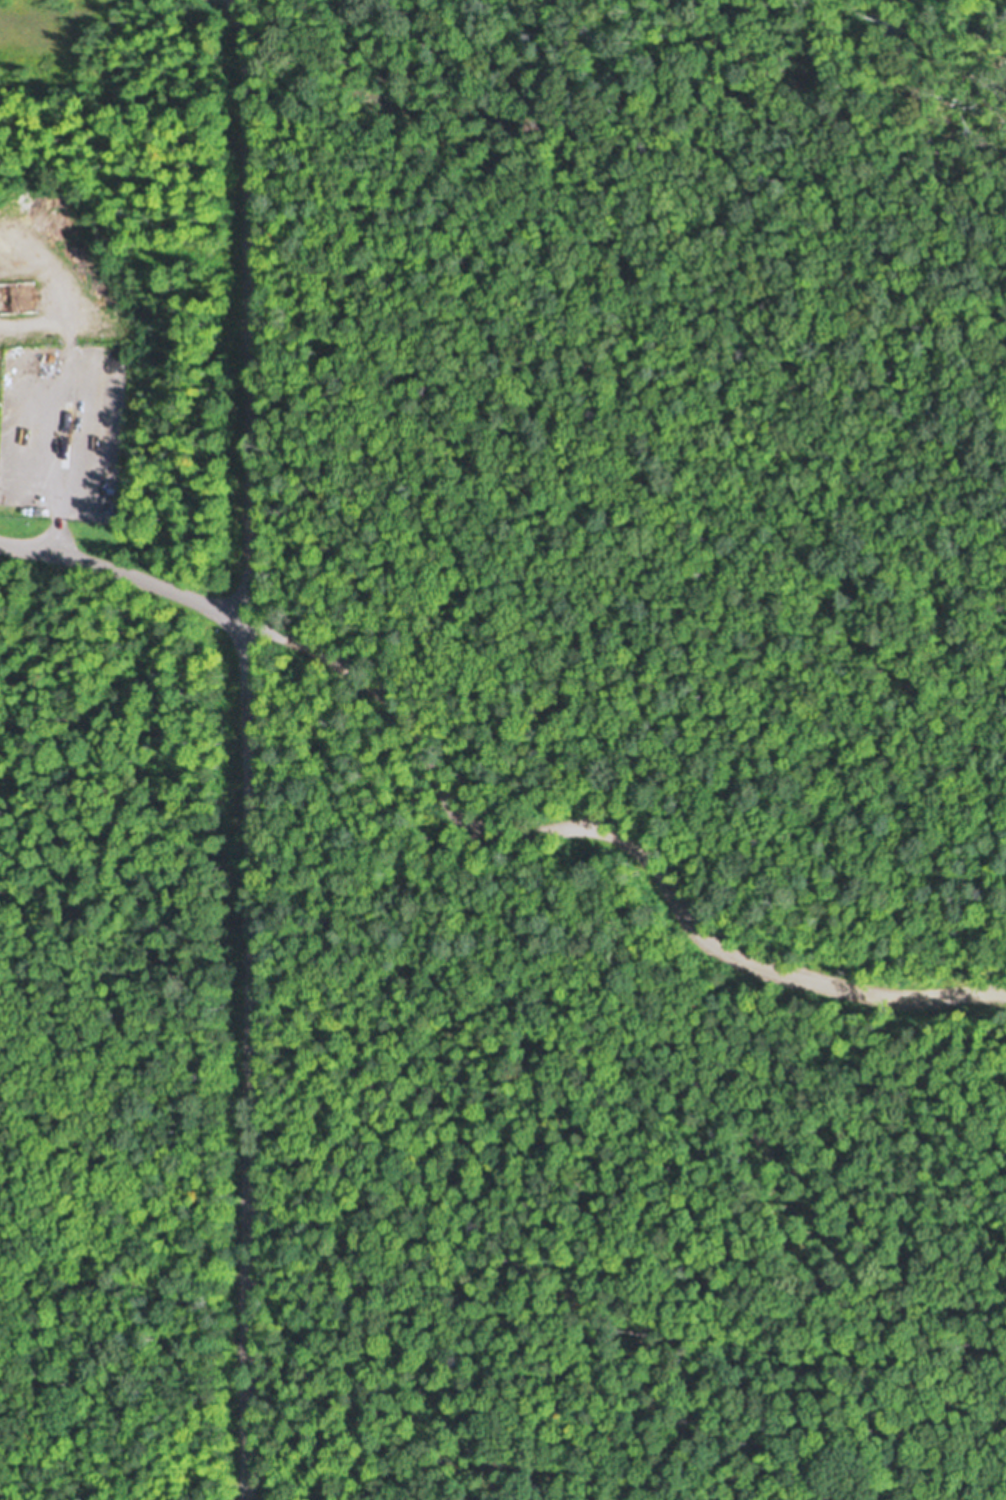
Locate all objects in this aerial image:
road: (244, 309)
building: (107, 500)
road: (121, 581)
road: (606, 832)
road: (244, 1060)

